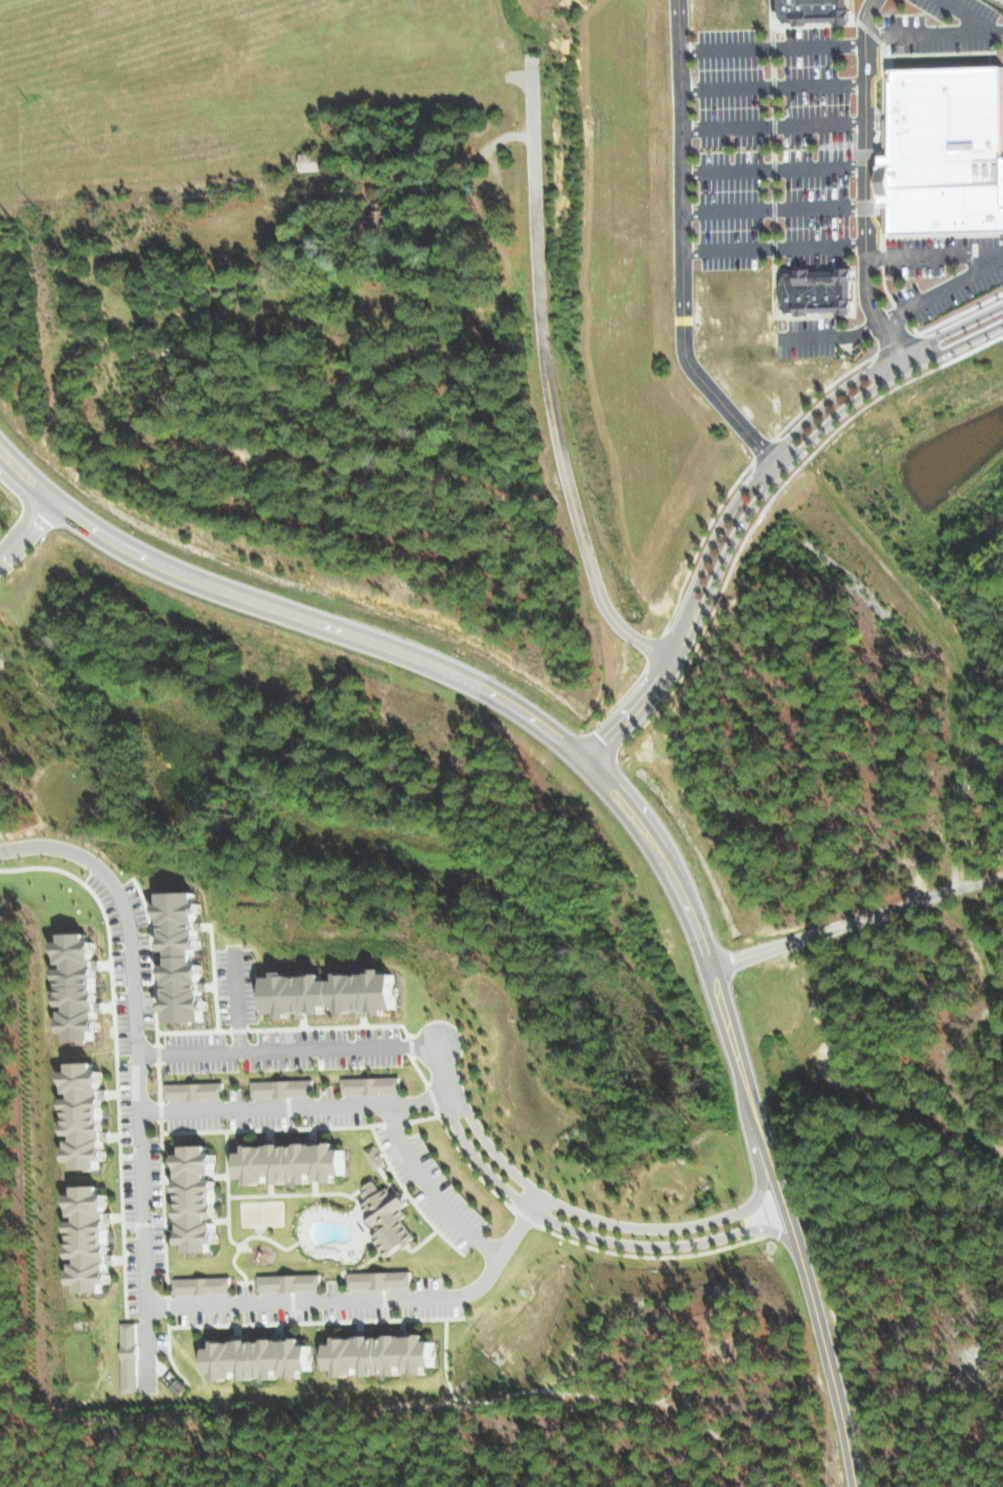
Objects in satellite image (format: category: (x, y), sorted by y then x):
building: (789, 11)
building: (822, 11)
road: (969, 15)
road: (932, 31)
road: (769, 47)
road: (771, 88)
road: (772, 127)
building: (947, 148)
building: (315, 160)
road: (773, 169)
road: (866, 184)
road: (775, 210)
building: (382, 213)
road: (776, 247)
road: (682, 249)
road: (936, 253)
building: (824, 290)
road: (898, 315)
road: (909, 360)
road: (548, 383)
road: (831, 403)
road: (842, 418)
road: (781, 461)
road: (767, 473)
road: (56, 499)
road: (46, 508)
road: (17, 529)
road: (25, 546)
road: (473, 677)
road: (649, 689)
dam: (444, 847)
dam: (448, 877)
road: (858, 924)
building: (189, 955)
building: (83, 985)
building: (336, 992)
road: (236, 1001)
road: (287, 1046)
road: (442, 1066)
road: (136, 1068)
building: (372, 1084)
building: (284, 1087)
building: (195, 1090)
road: (293, 1106)
building: (87, 1115)
road: (756, 1120)
building: (375, 1156)
road: (475, 1156)
building: (295, 1163)
road: (431, 1188)
building: (201, 1198)
road: (534, 1200)
building: (388, 1218)
road: (613, 1222)
road: (745, 1230)
building: (90, 1239)
road: (608, 1239)
building: (381, 1279)
building: (291, 1282)
building: (202, 1284)
road: (357, 1297)
road: (812, 1307)
building: (385, 1355)
building: (128, 1356)
building: (263, 1359)

